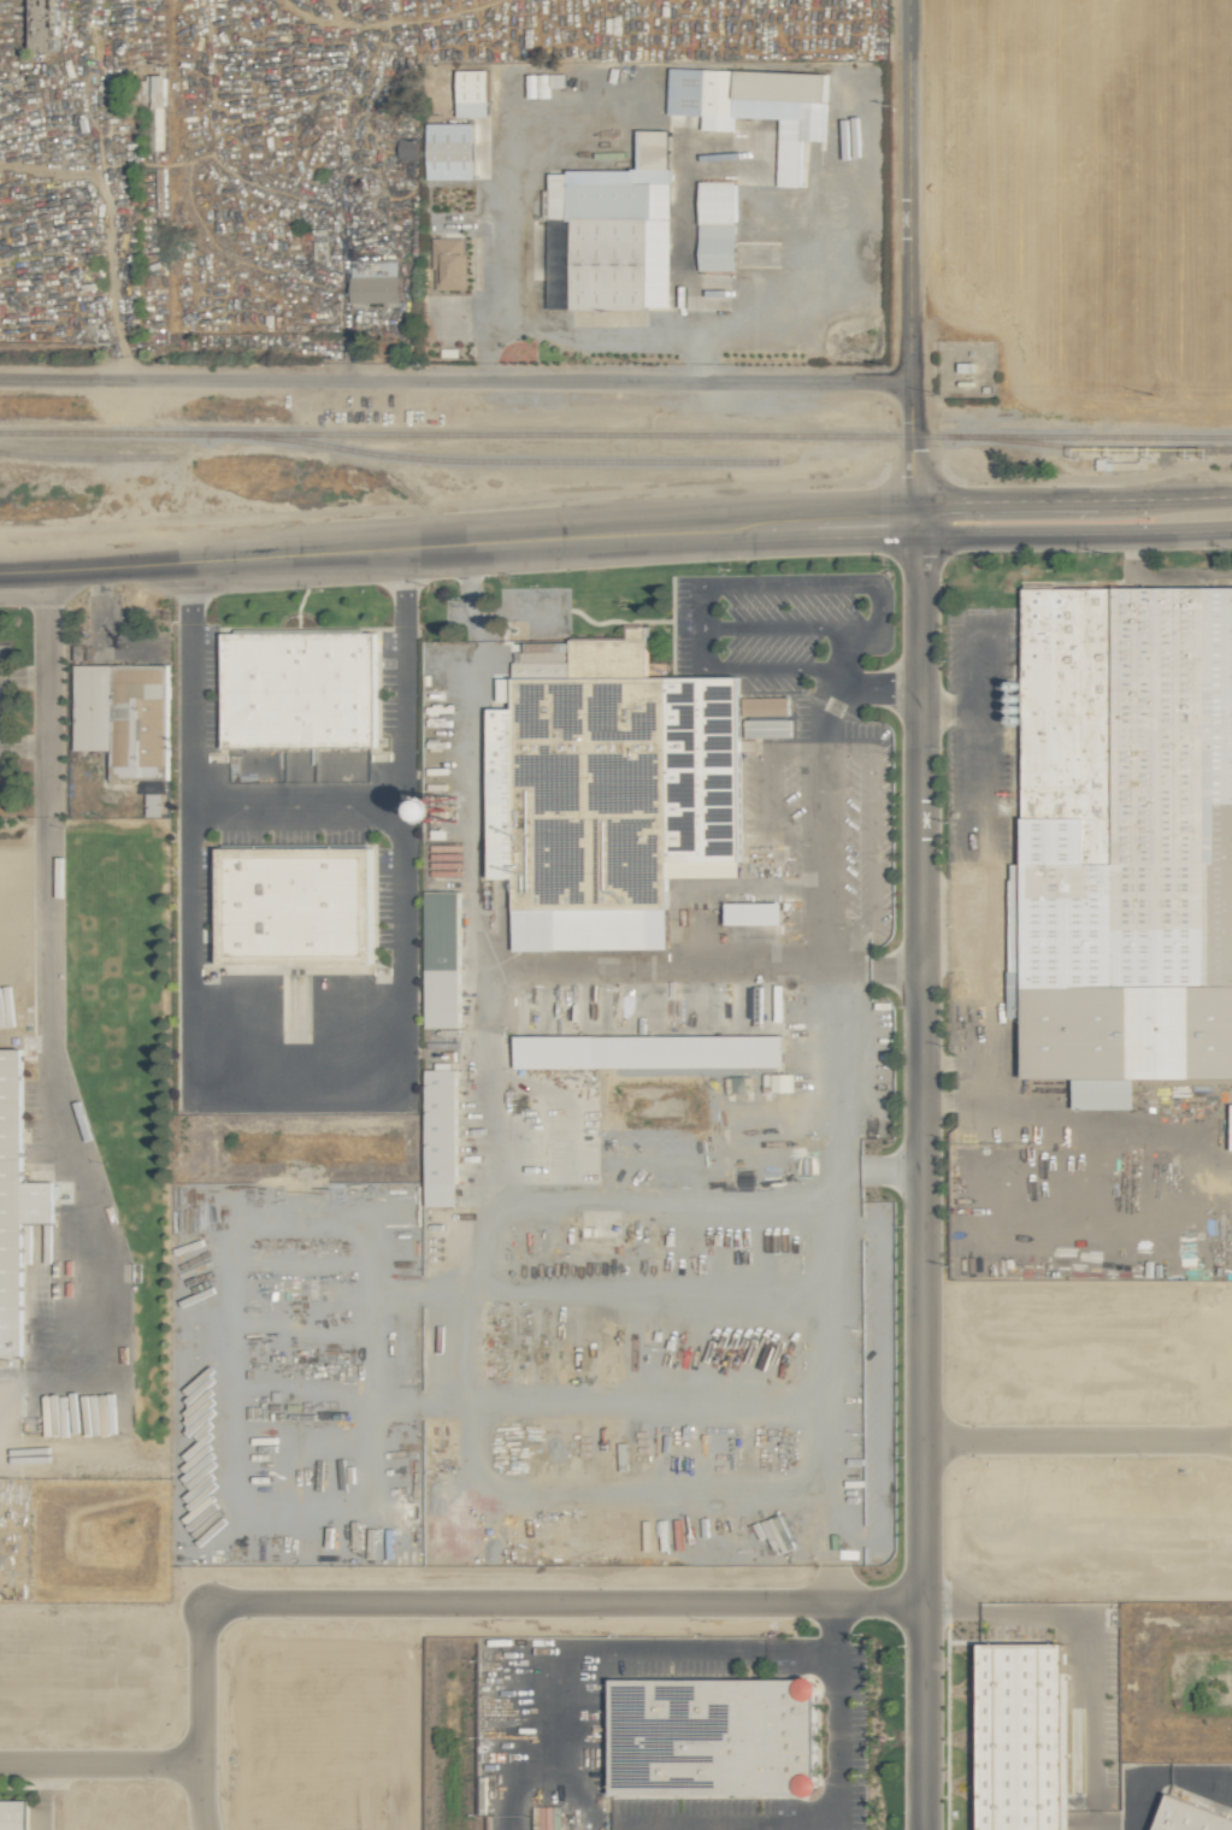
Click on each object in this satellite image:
building: (41, 24)
building: (155, 90)
building: (472, 93)
building: (756, 106)
building: (407, 148)
building: (449, 151)
building: (718, 225)
building: (612, 234)
crop: (1094, 258)
building: (448, 264)
road: (907, 269)
building: (373, 281)
road: (588, 340)
road: (454, 381)
railway: (615, 436)
railway: (1091, 448)
railway: (84, 458)
railway: (491, 463)
road: (972, 501)
road: (817, 531)
road: (1075, 532)
road: (356, 552)
road: (782, 584)
building: (1128, 592)
road: (785, 624)
road: (848, 646)
road: (745, 667)
building: (299, 688)
building: (768, 705)
building: (124, 716)
building: (768, 728)
road: (474, 757)
road: (826, 782)
road: (295, 795)
building: (153, 804)
building: (442, 804)
building: (700, 805)
water tower: (442, 807)
building: (297, 904)
building: (754, 912)
building: (442, 959)
road: (872, 966)
road: (532, 967)
road: (42, 981)
building: (778, 995)
building: (648, 1051)
road: (827, 1067)
building: (782, 1082)
road: (305, 1087)
building: (1231, 1131)
building: (441, 1135)
road: (876, 1167)
road: (832, 1179)
road: (920, 1183)
building: (14, 1202)
road: (477, 1202)
road: (1077, 1442)
building: (818, 1528)
road: (833, 1543)
road: (560, 1600)
road: (198, 1718)
building: (1025, 1736)
building: (714, 1737)
road: (99, 1766)
road: (521, 1781)
road: (589, 1805)
road: (506, 1812)
building: (13, 1814)
building: (1191, 1817)
road: (736, 1825)

